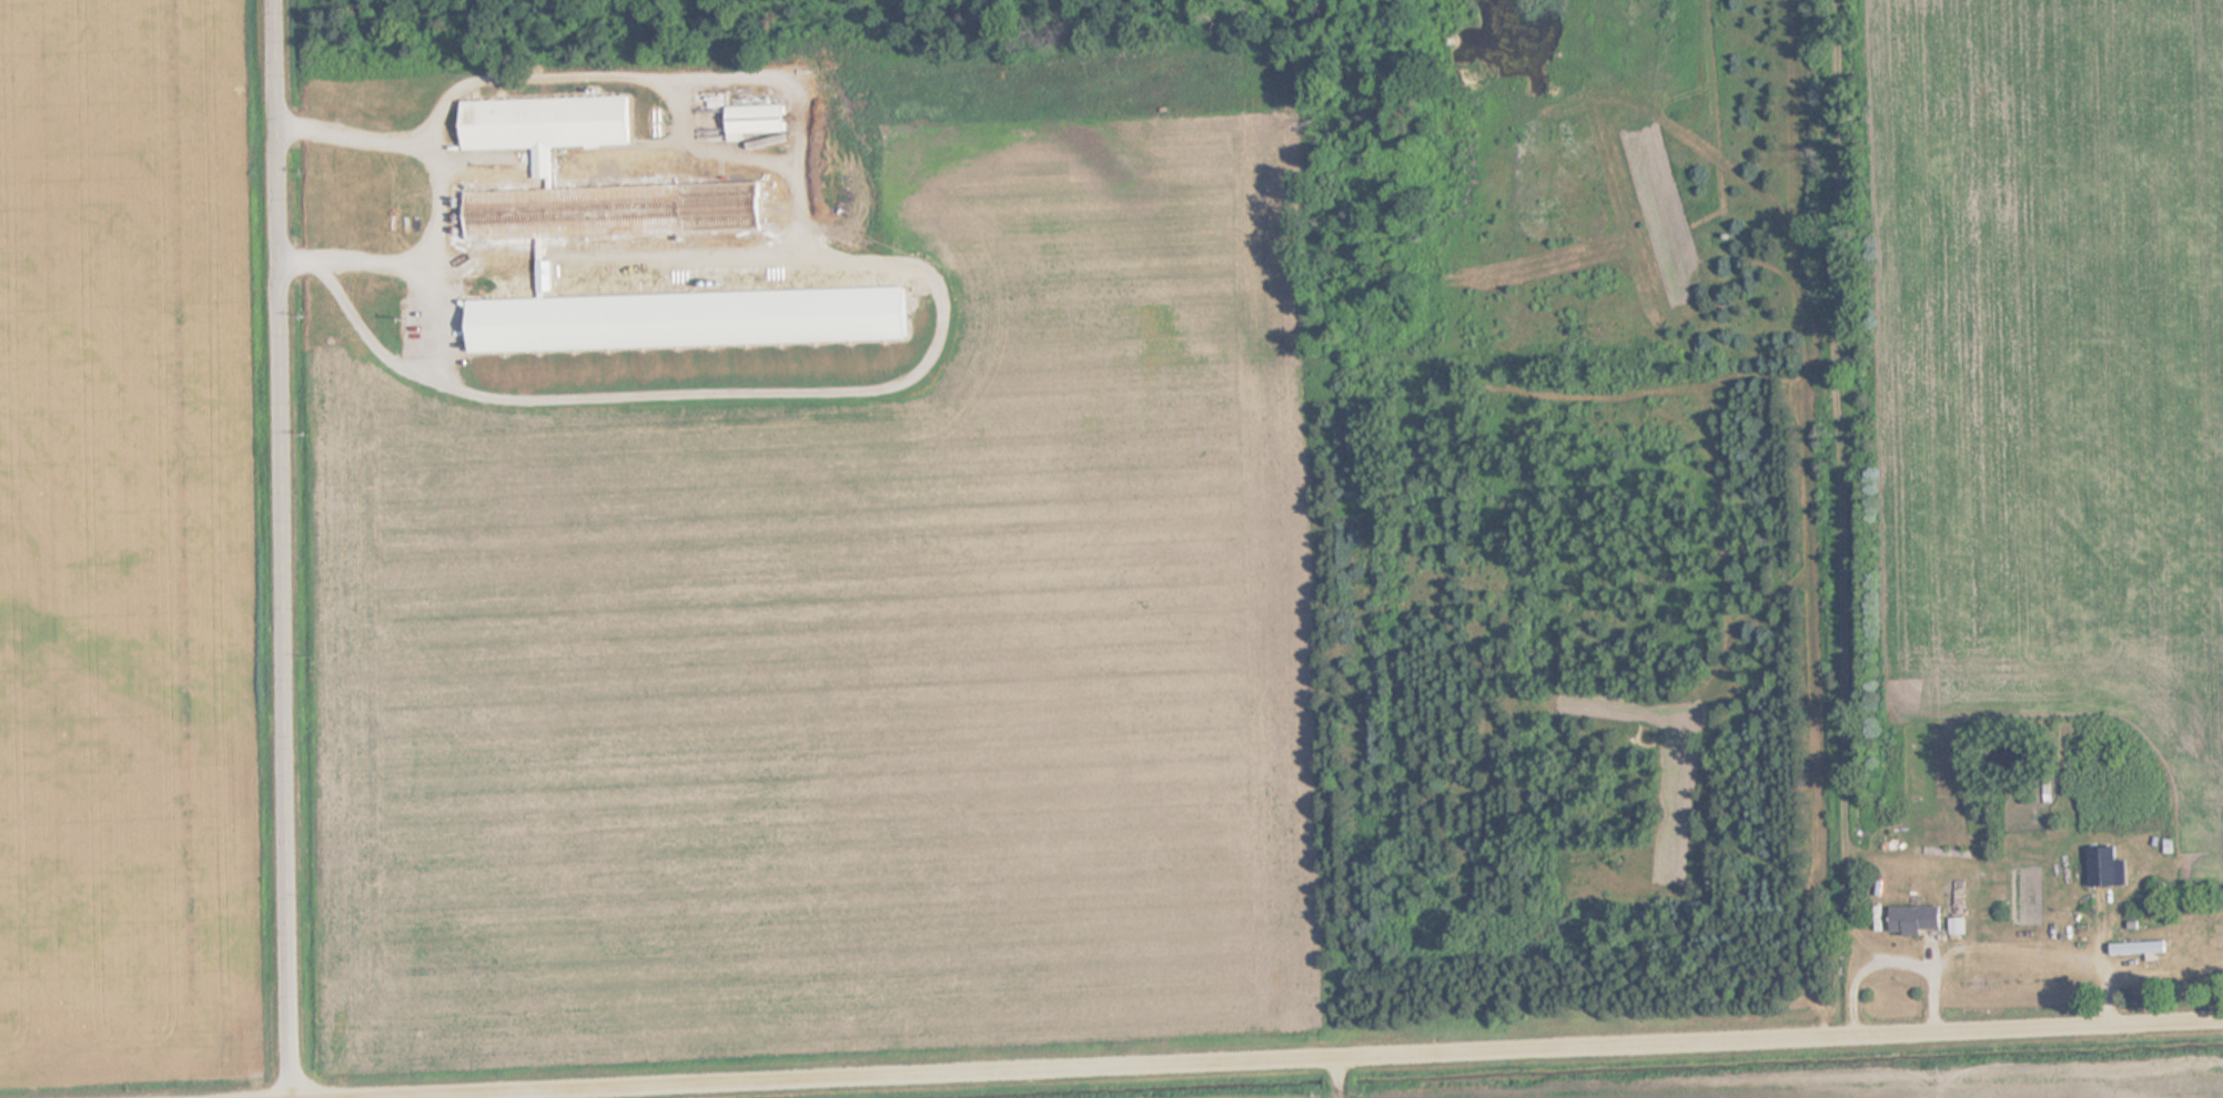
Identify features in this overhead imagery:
building: (761, 119)
building: (545, 165)
road: (285, 549)
building: (2106, 866)
building: (1920, 921)
building: (2142, 949)
road: (1283, 1058)

